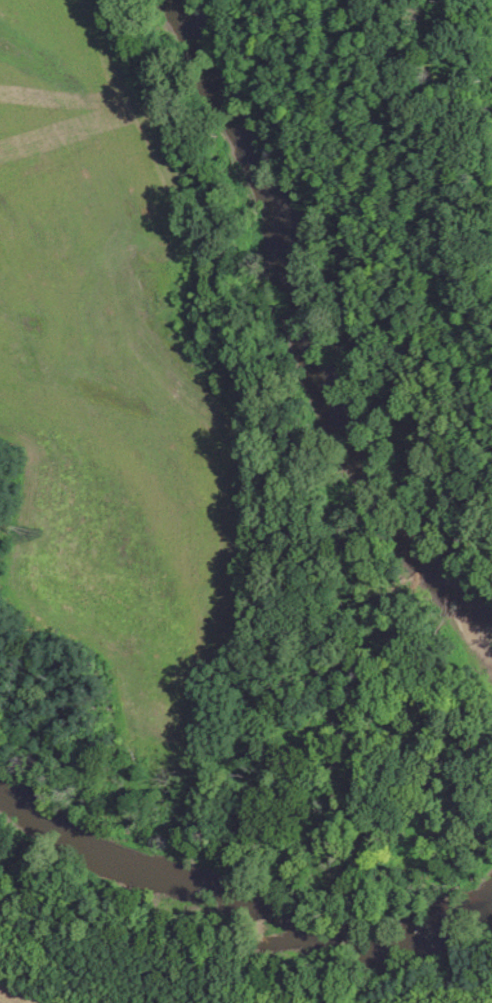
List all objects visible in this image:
river: (297, 337)
river: (235, 912)

